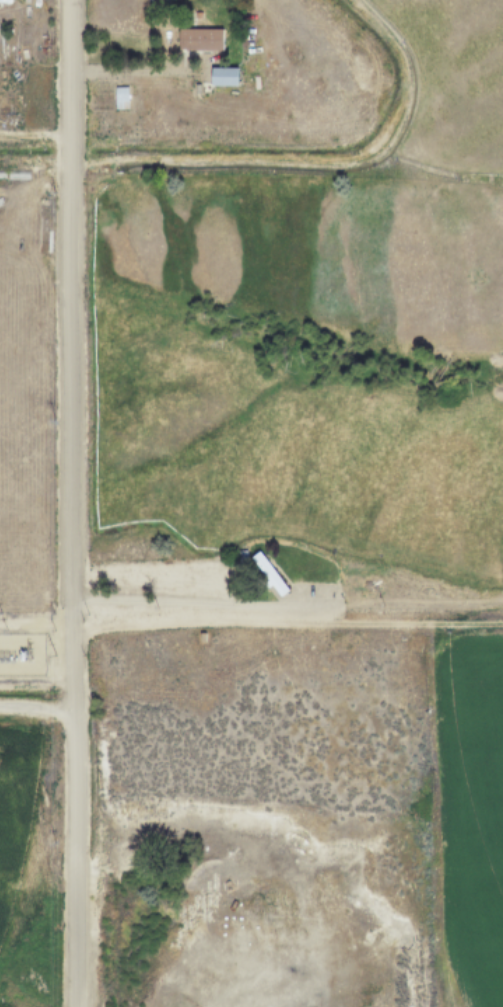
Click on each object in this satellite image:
building: (199, 37)
road: (135, 71)
building: (223, 74)
building: (120, 92)
road: (70, 503)
building: (269, 572)
road: (191, 600)
road: (287, 625)
building: (202, 636)
road: (36, 708)

